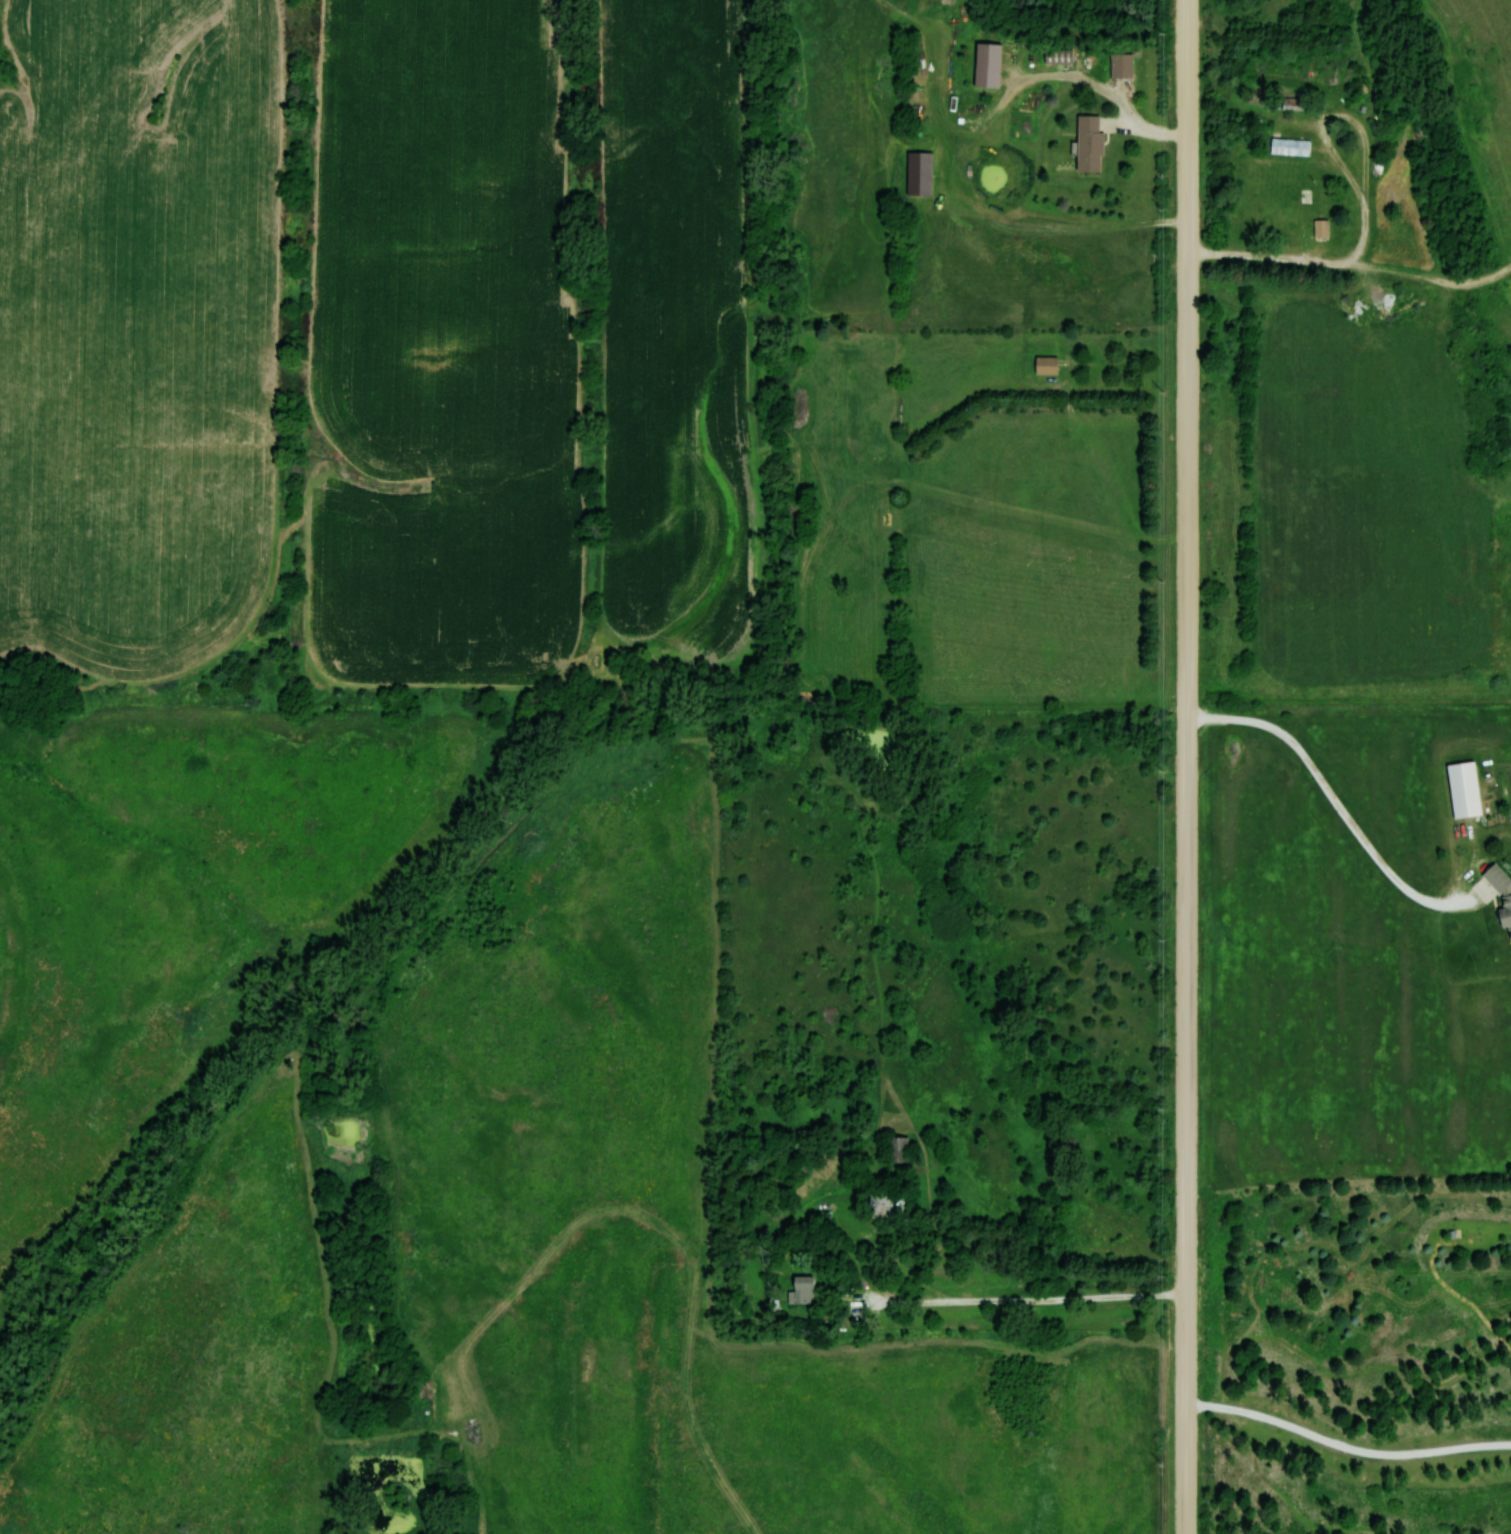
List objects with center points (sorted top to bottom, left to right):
building: (983, 65)
building: (1119, 65)
building: (1087, 144)
building: (1288, 147)
building: (1286, 203)
road: (1367, 206)
building: (1045, 366)
road: (1188, 767)
building: (1461, 790)
road: (1339, 807)
building: (1500, 897)
building: (896, 1148)
building: (801, 1290)
road: (1040, 1327)
road: (1346, 1447)

